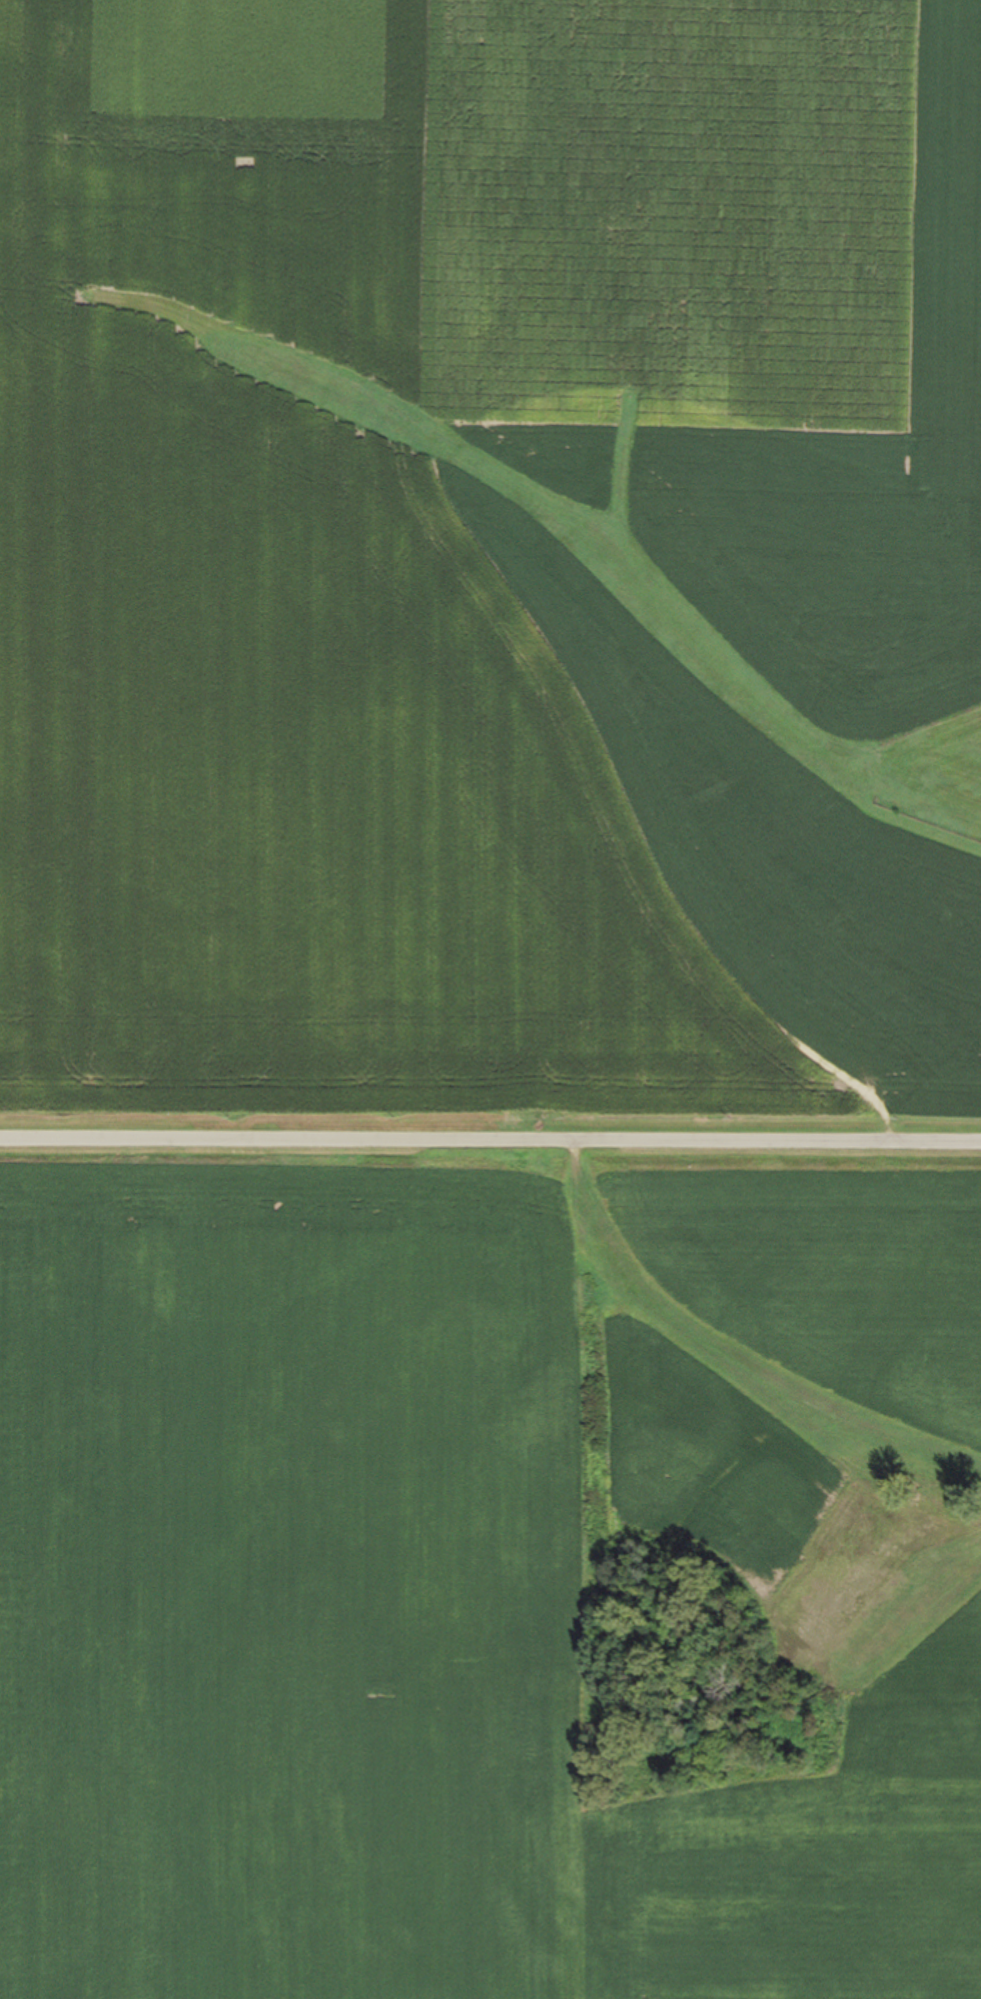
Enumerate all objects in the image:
road: (490, 1153)

